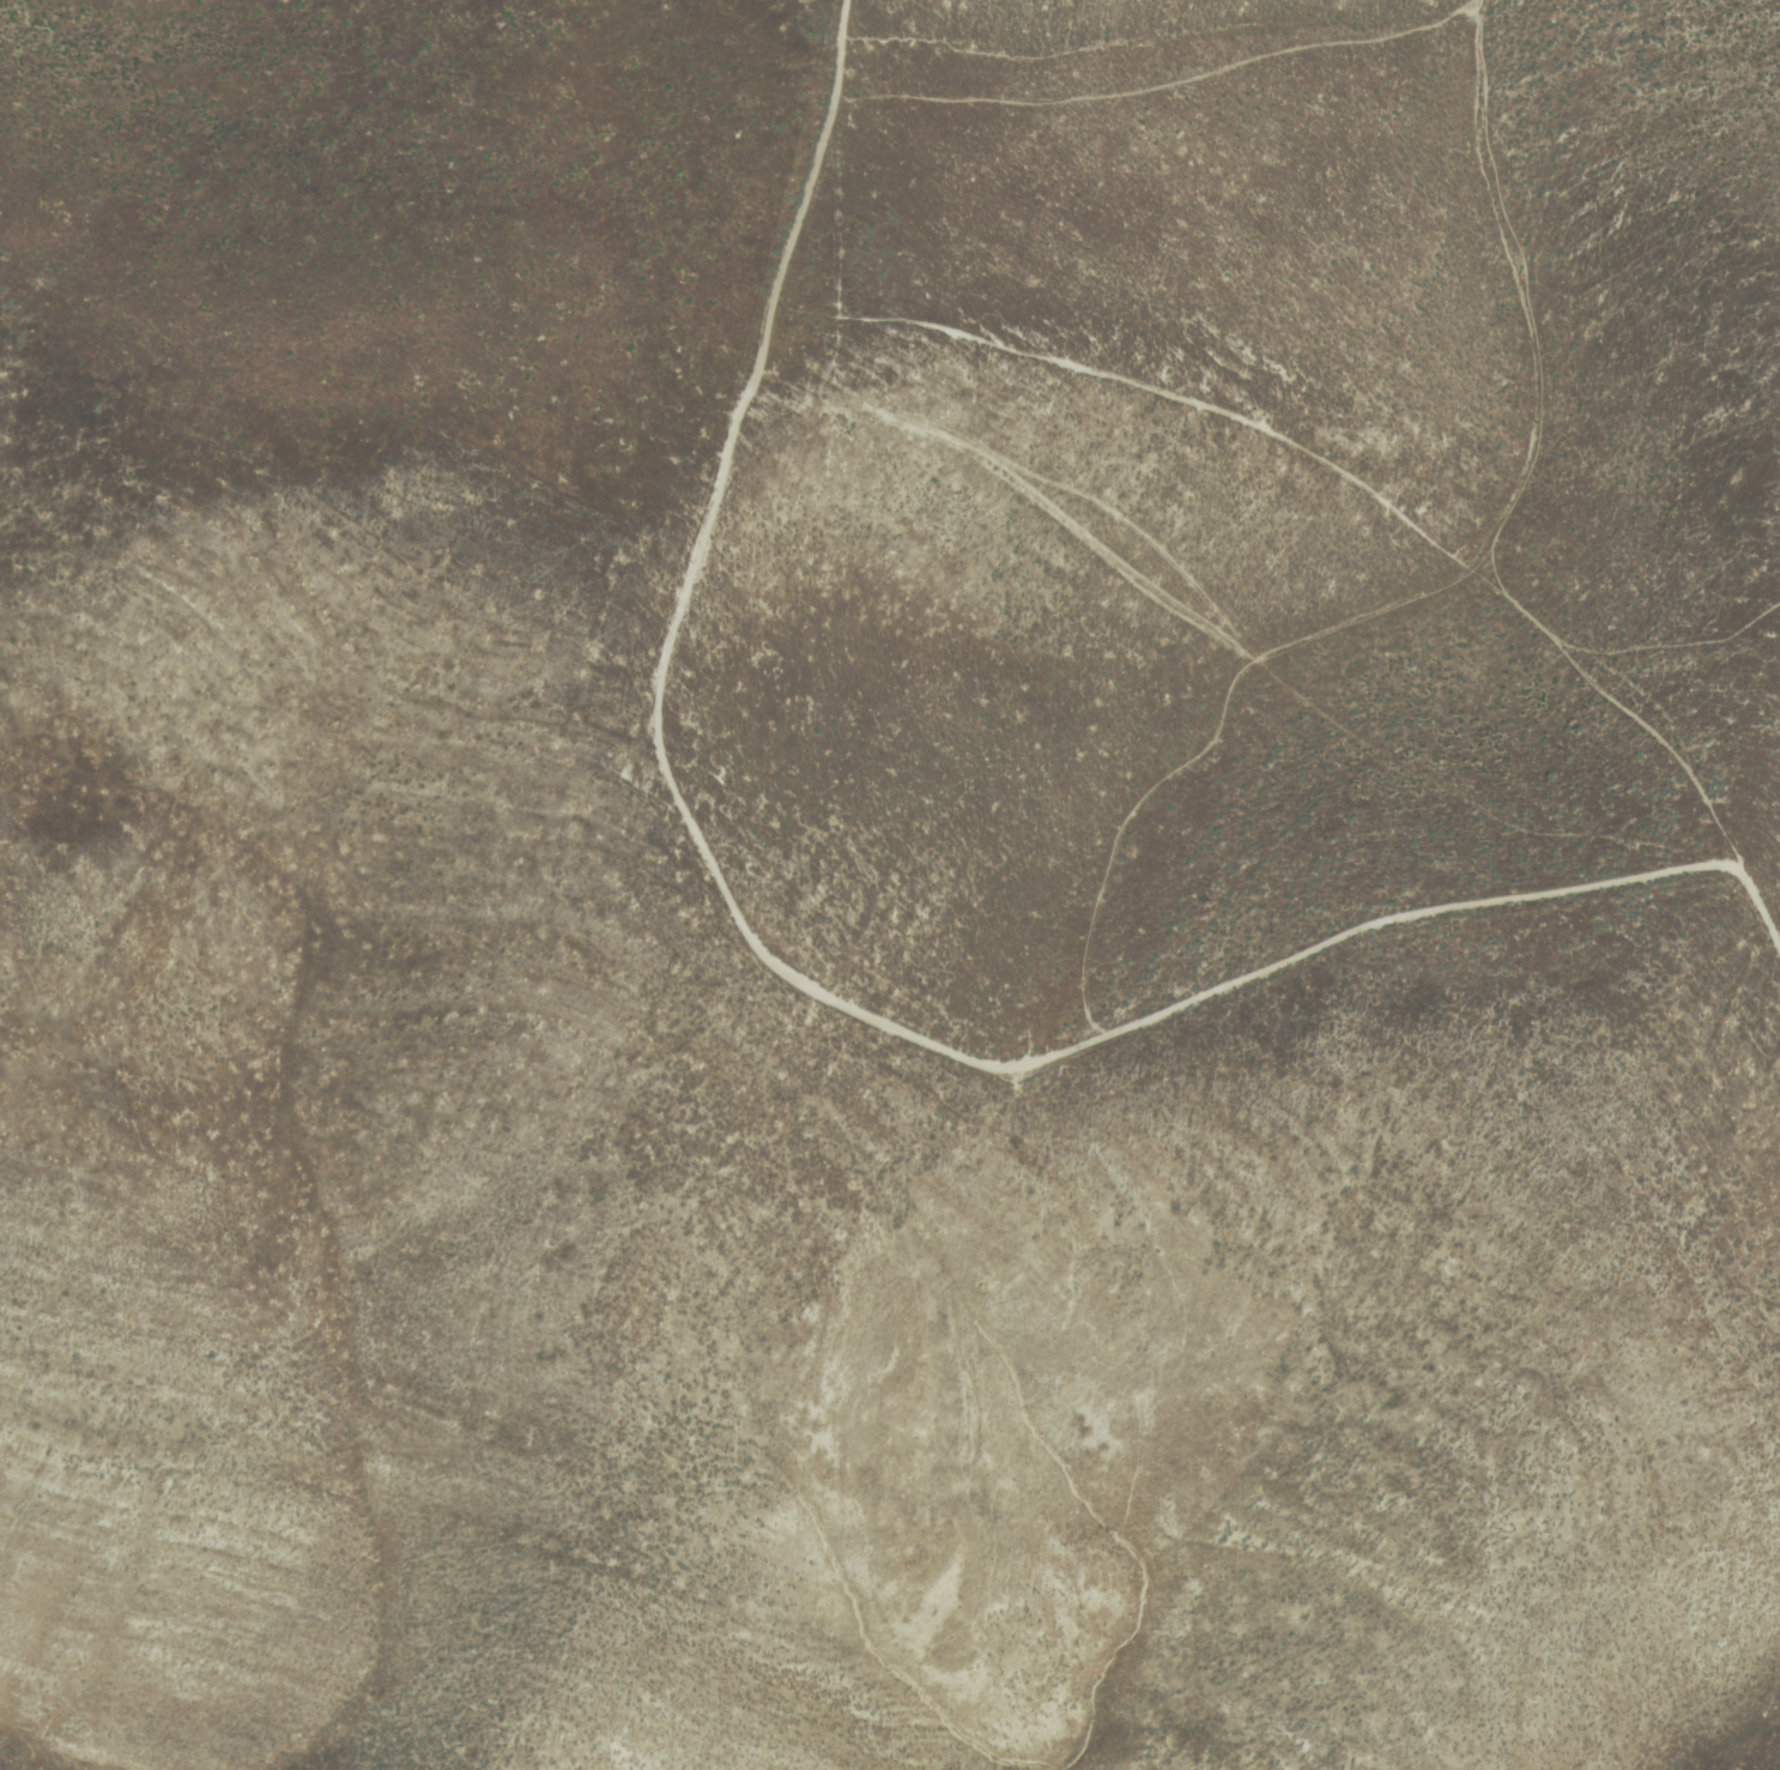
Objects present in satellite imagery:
road: (811, 984)

